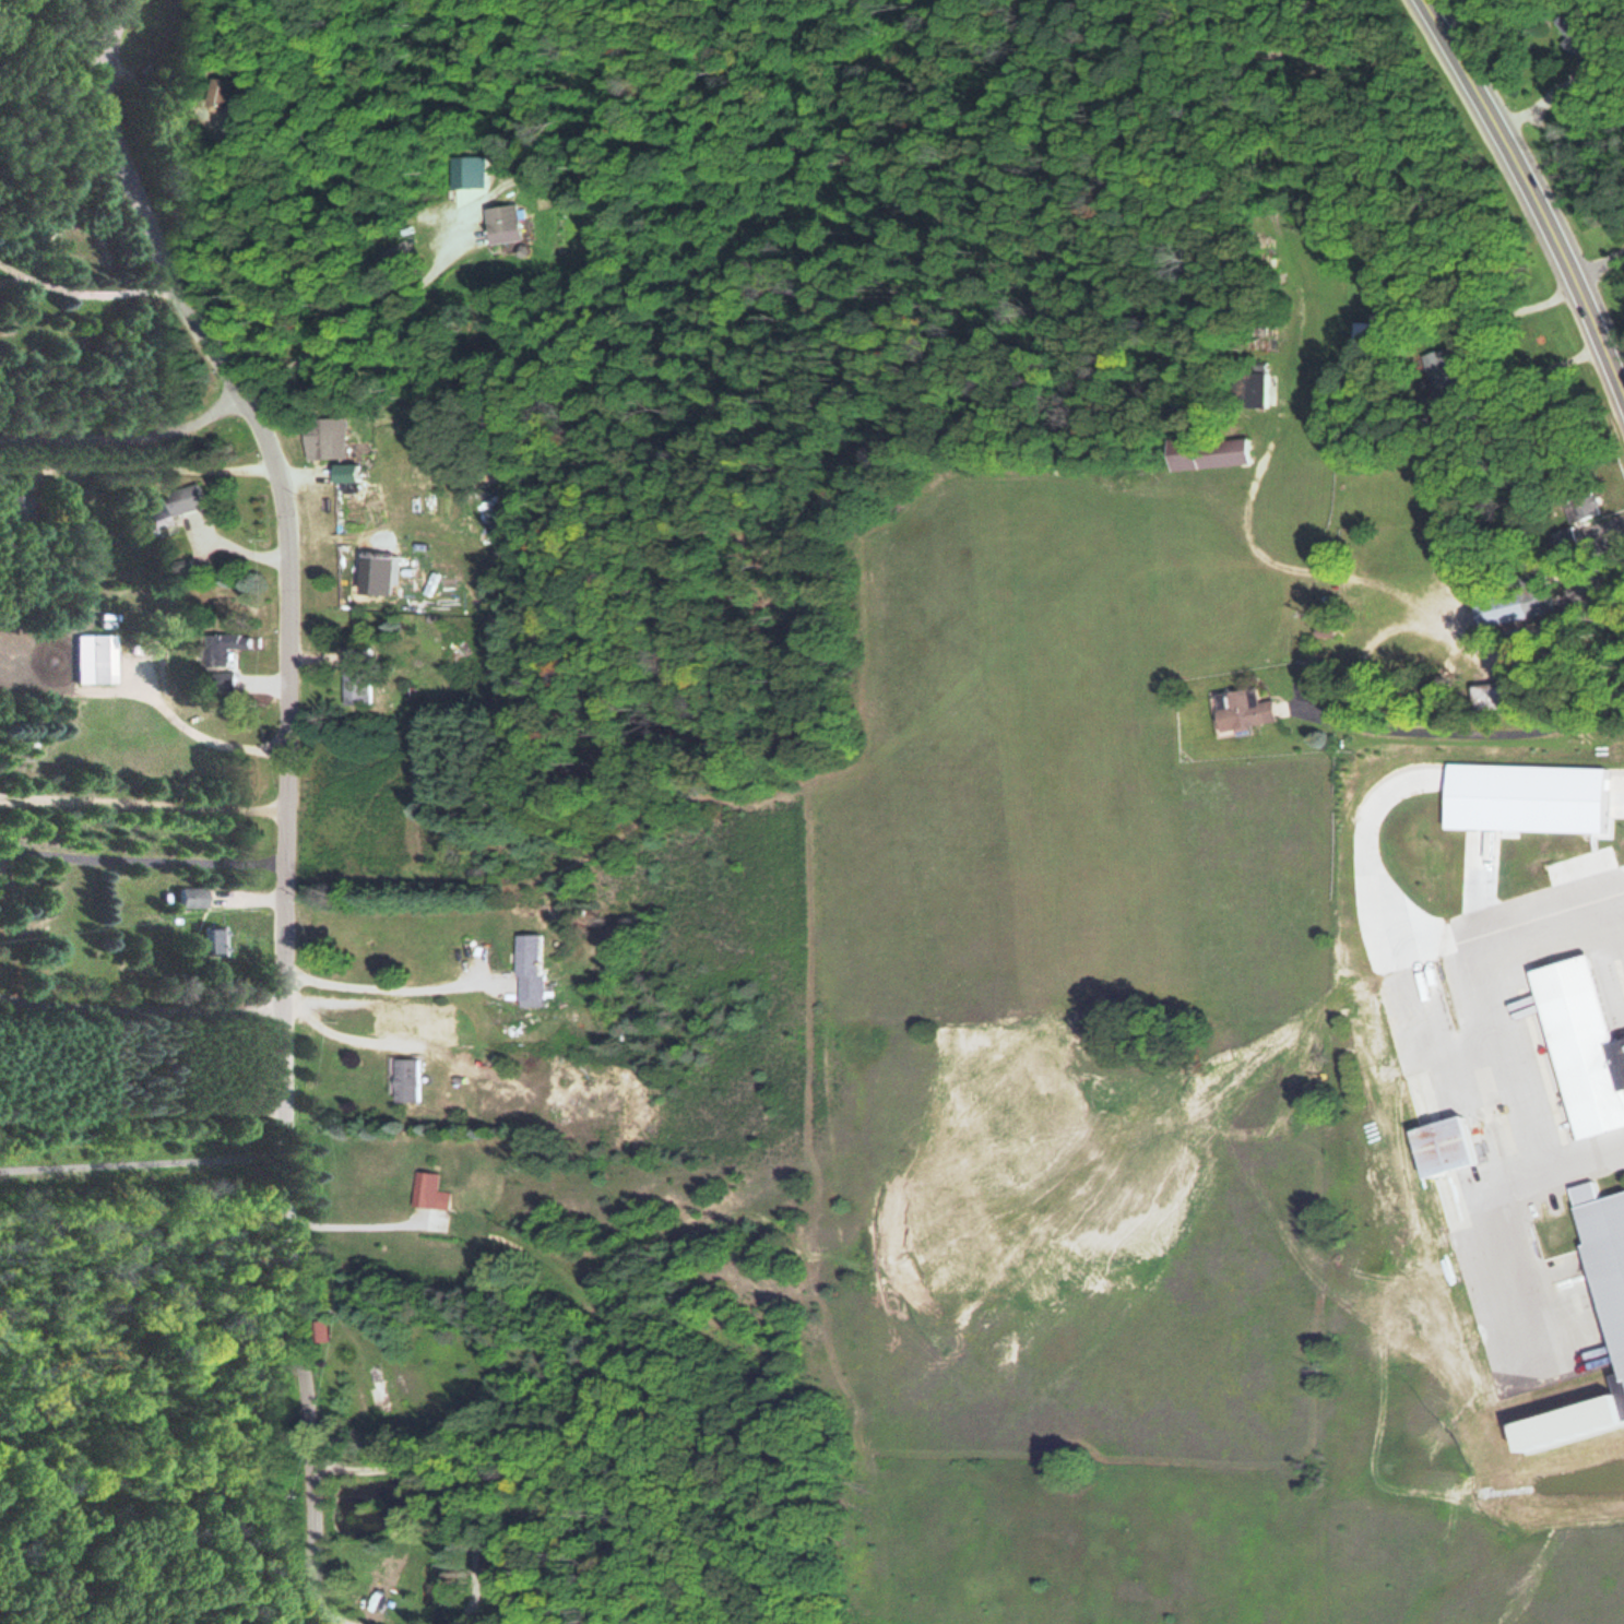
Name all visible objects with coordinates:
building: (1570, 35)
building: (234, 92)
road: (1536, 187)
building: (510, 223)
building: (1599, 230)
building: (1267, 270)
building: (1363, 334)
building: (1436, 370)
building: (1247, 388)
road: (128, 434)
building: (327, 441)
building: (1206, 453)
building: (178, 506)
building: (16, 511)
building: (1563, 536)
building: (1508, 604)
building: (223, 650)
building: (100, 659)
building: (356, 675)
building: (1484, 697)
building: (1241, 709)
road: (284, 790)
road: (140, 857)
building: (189, 897)
building: (211, 939)
building: (532, 965)
building: (1590, 1034)
building: (407, 1078)
building: (1461, 1142)
road: (140, 1161)
building: (429, 1190)
building: (1610, 1228)

